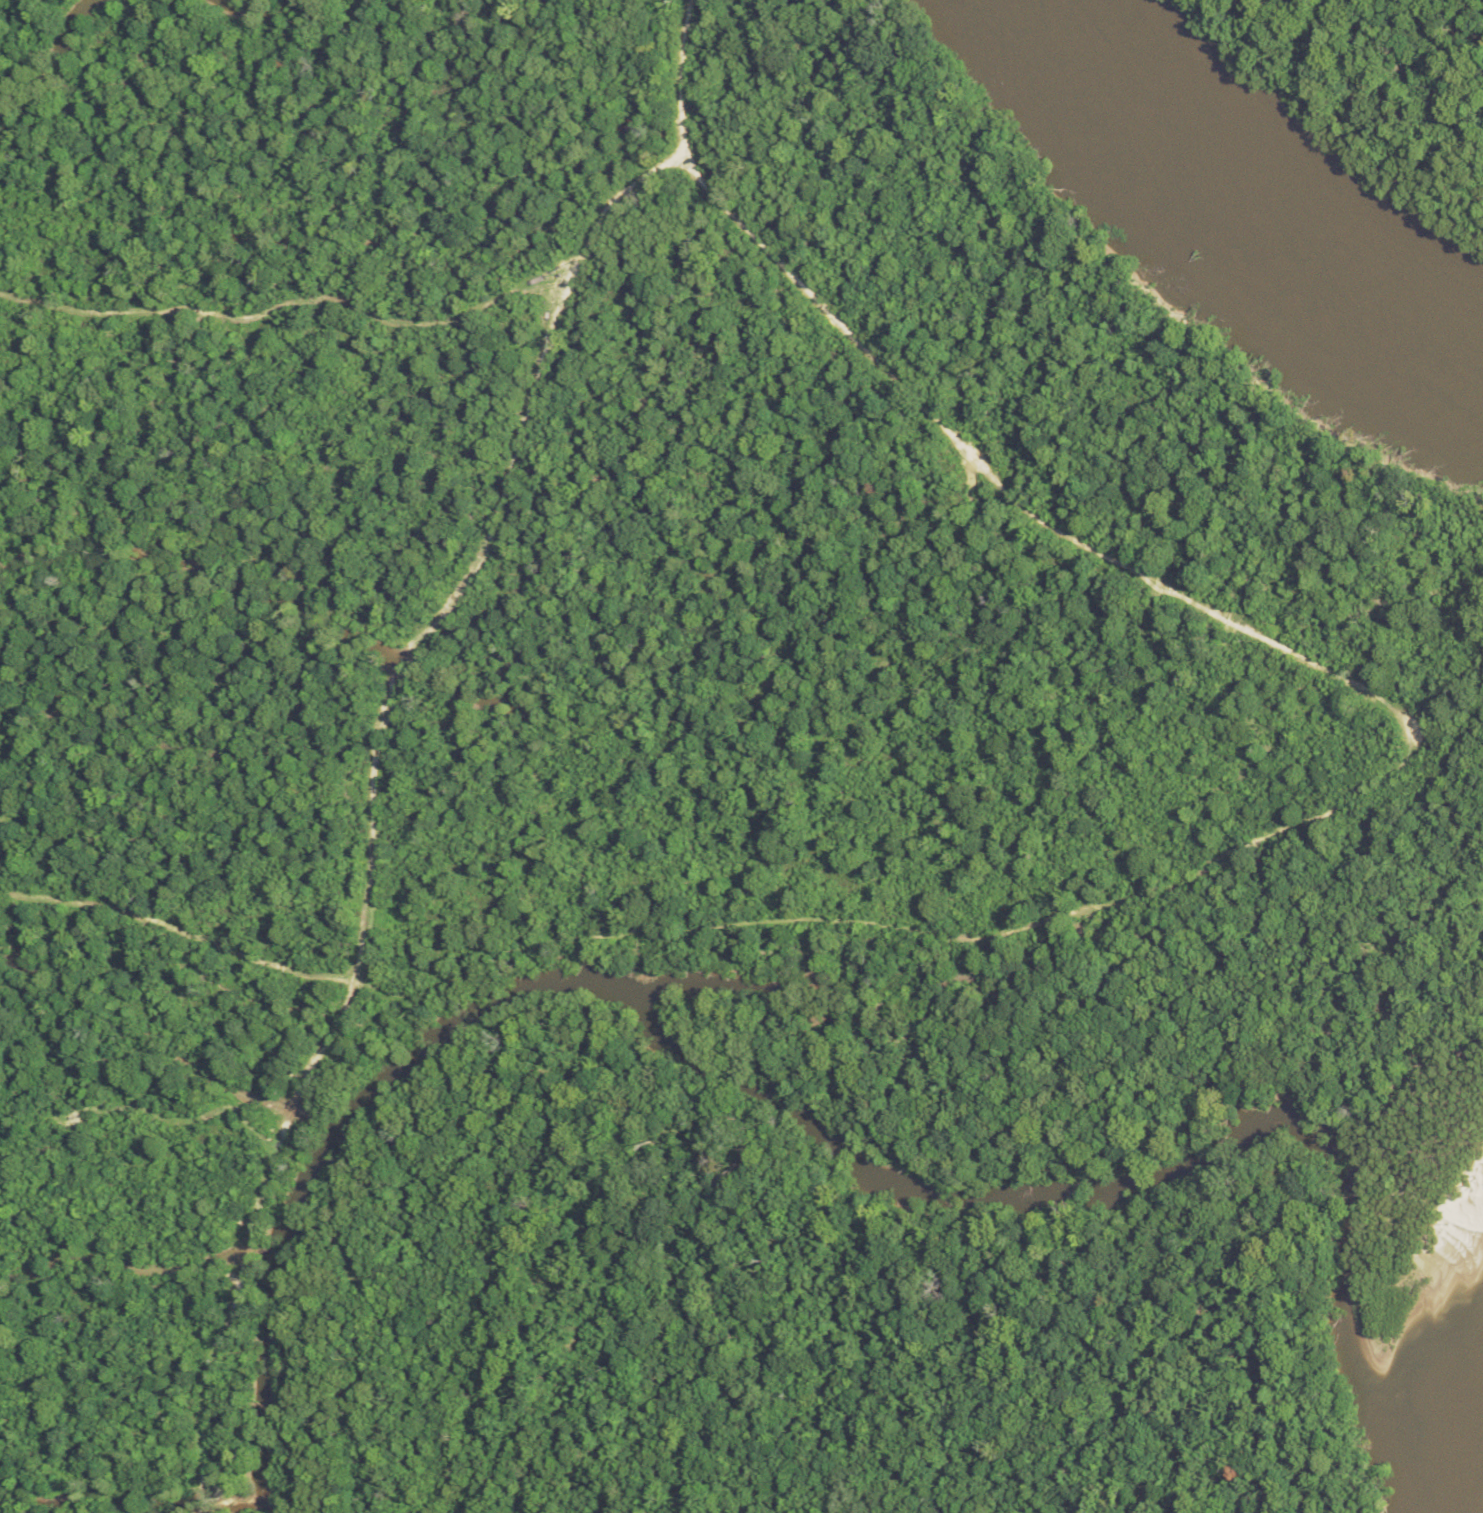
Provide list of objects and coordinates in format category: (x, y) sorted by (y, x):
river: (1245, 174)
river: (1462, 1340)

